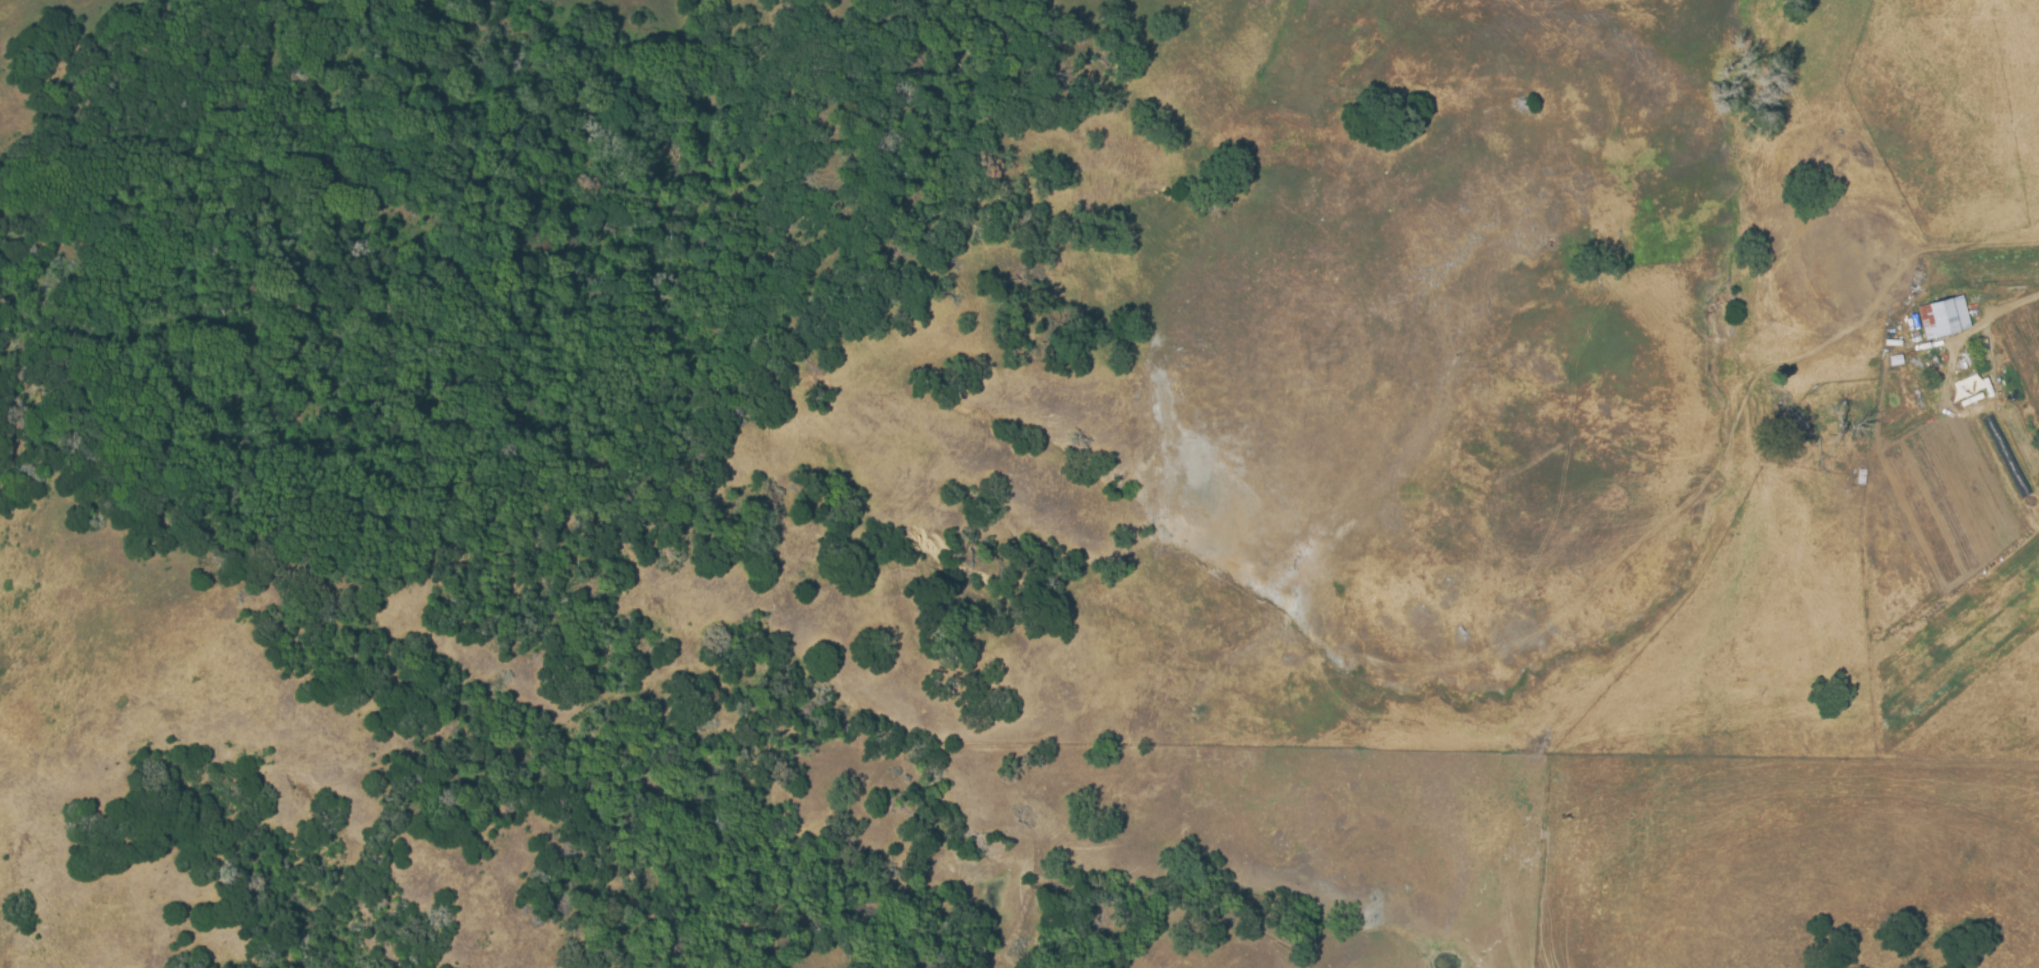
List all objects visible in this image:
road: (2015, 303)
building: (1943, 317)

